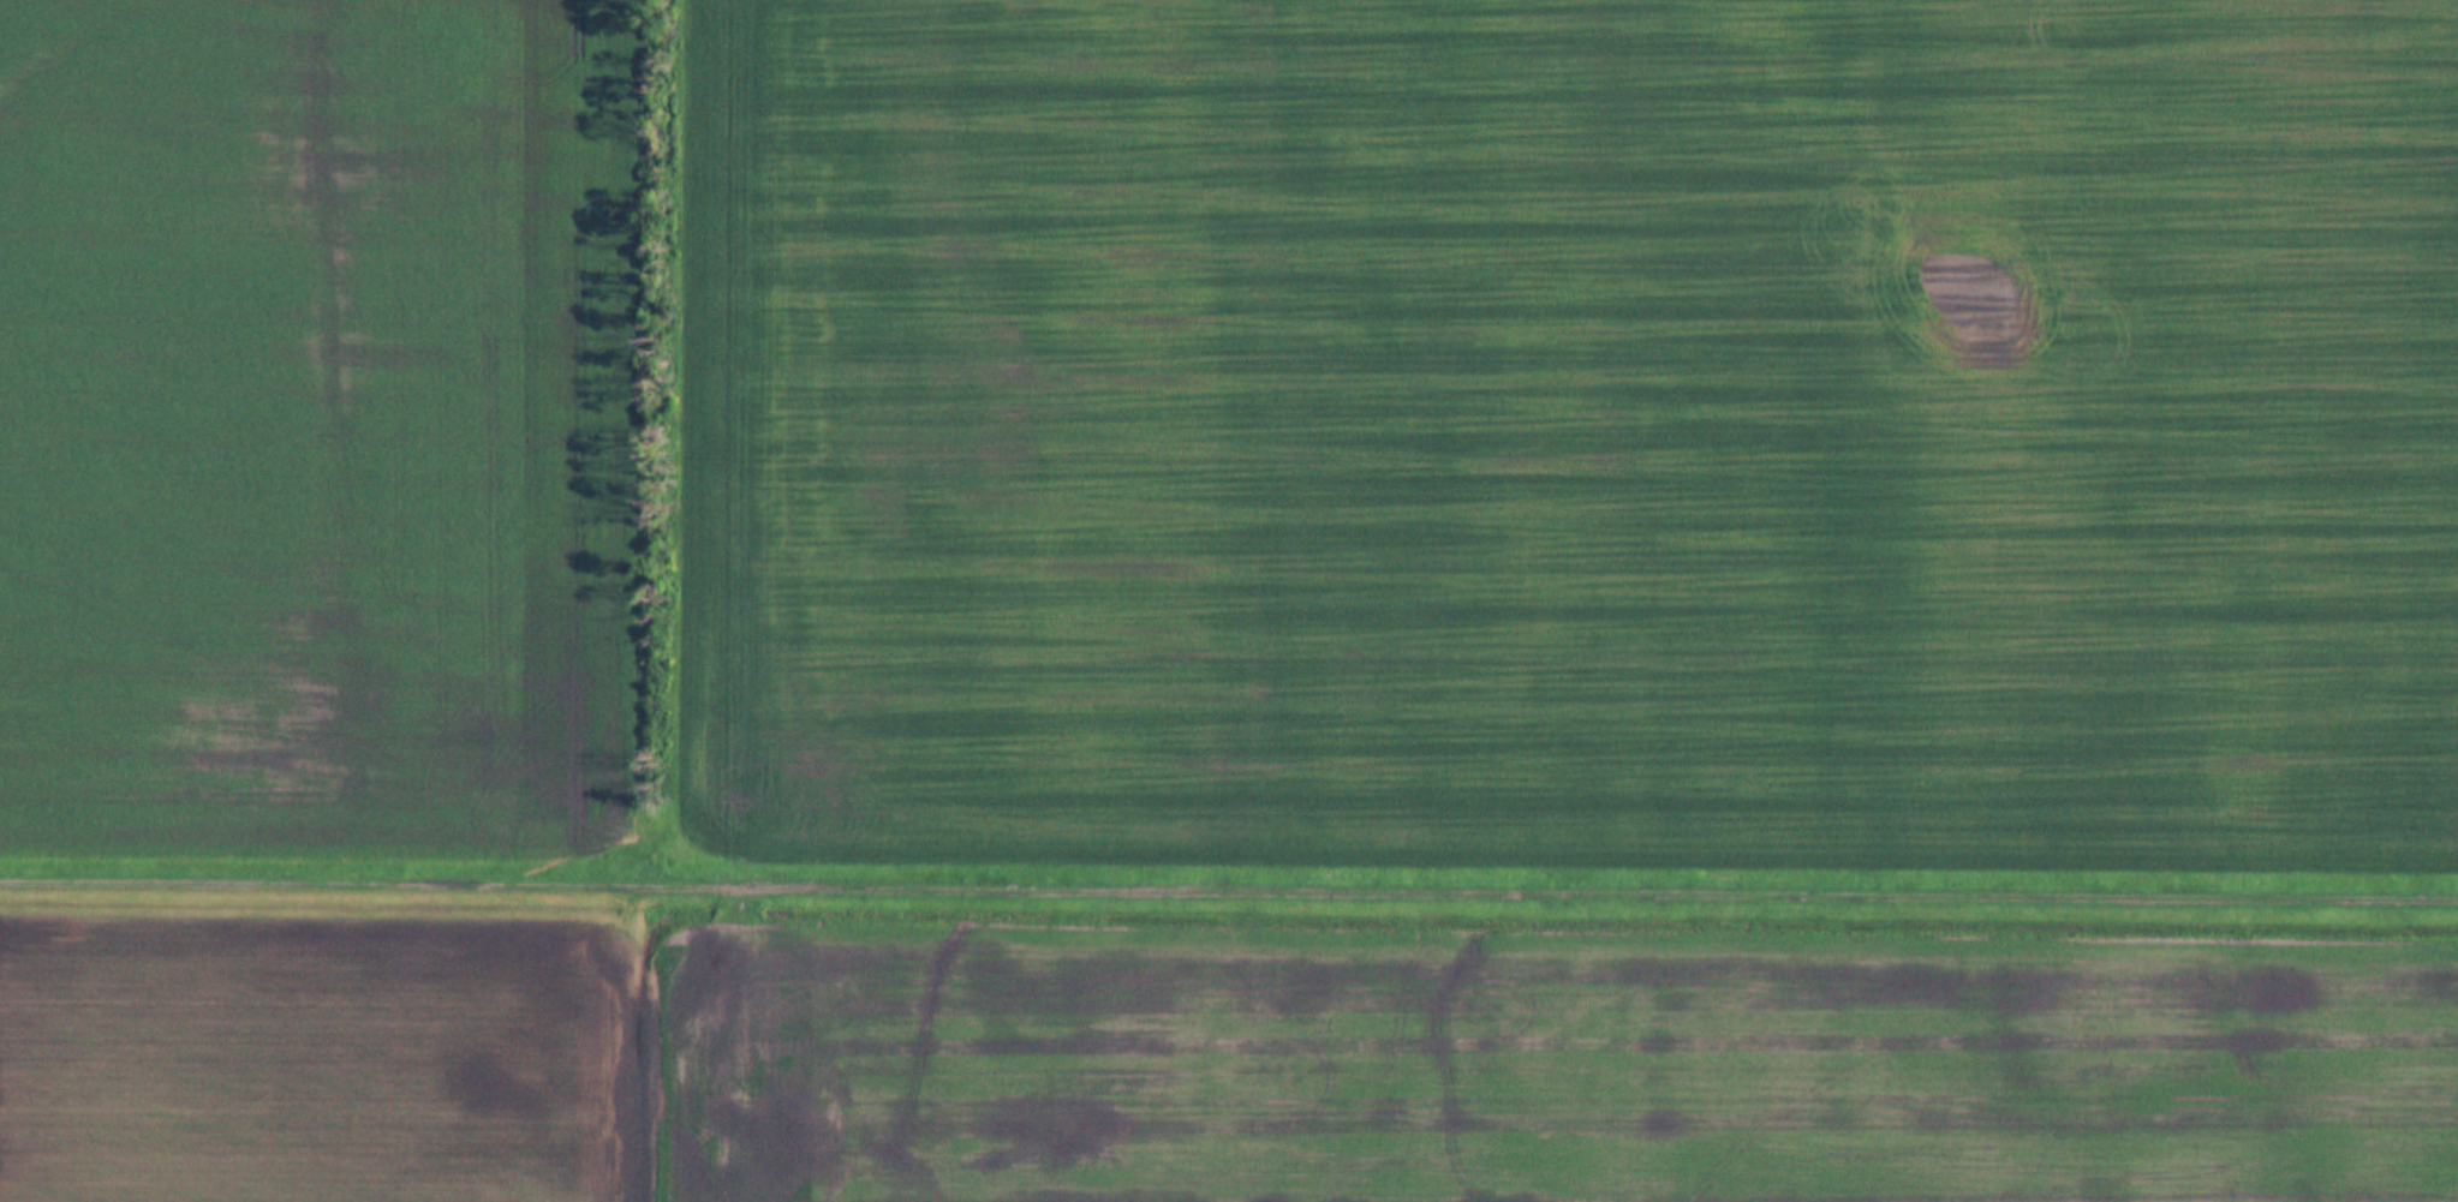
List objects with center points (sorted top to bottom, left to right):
road: (1229, 887)

